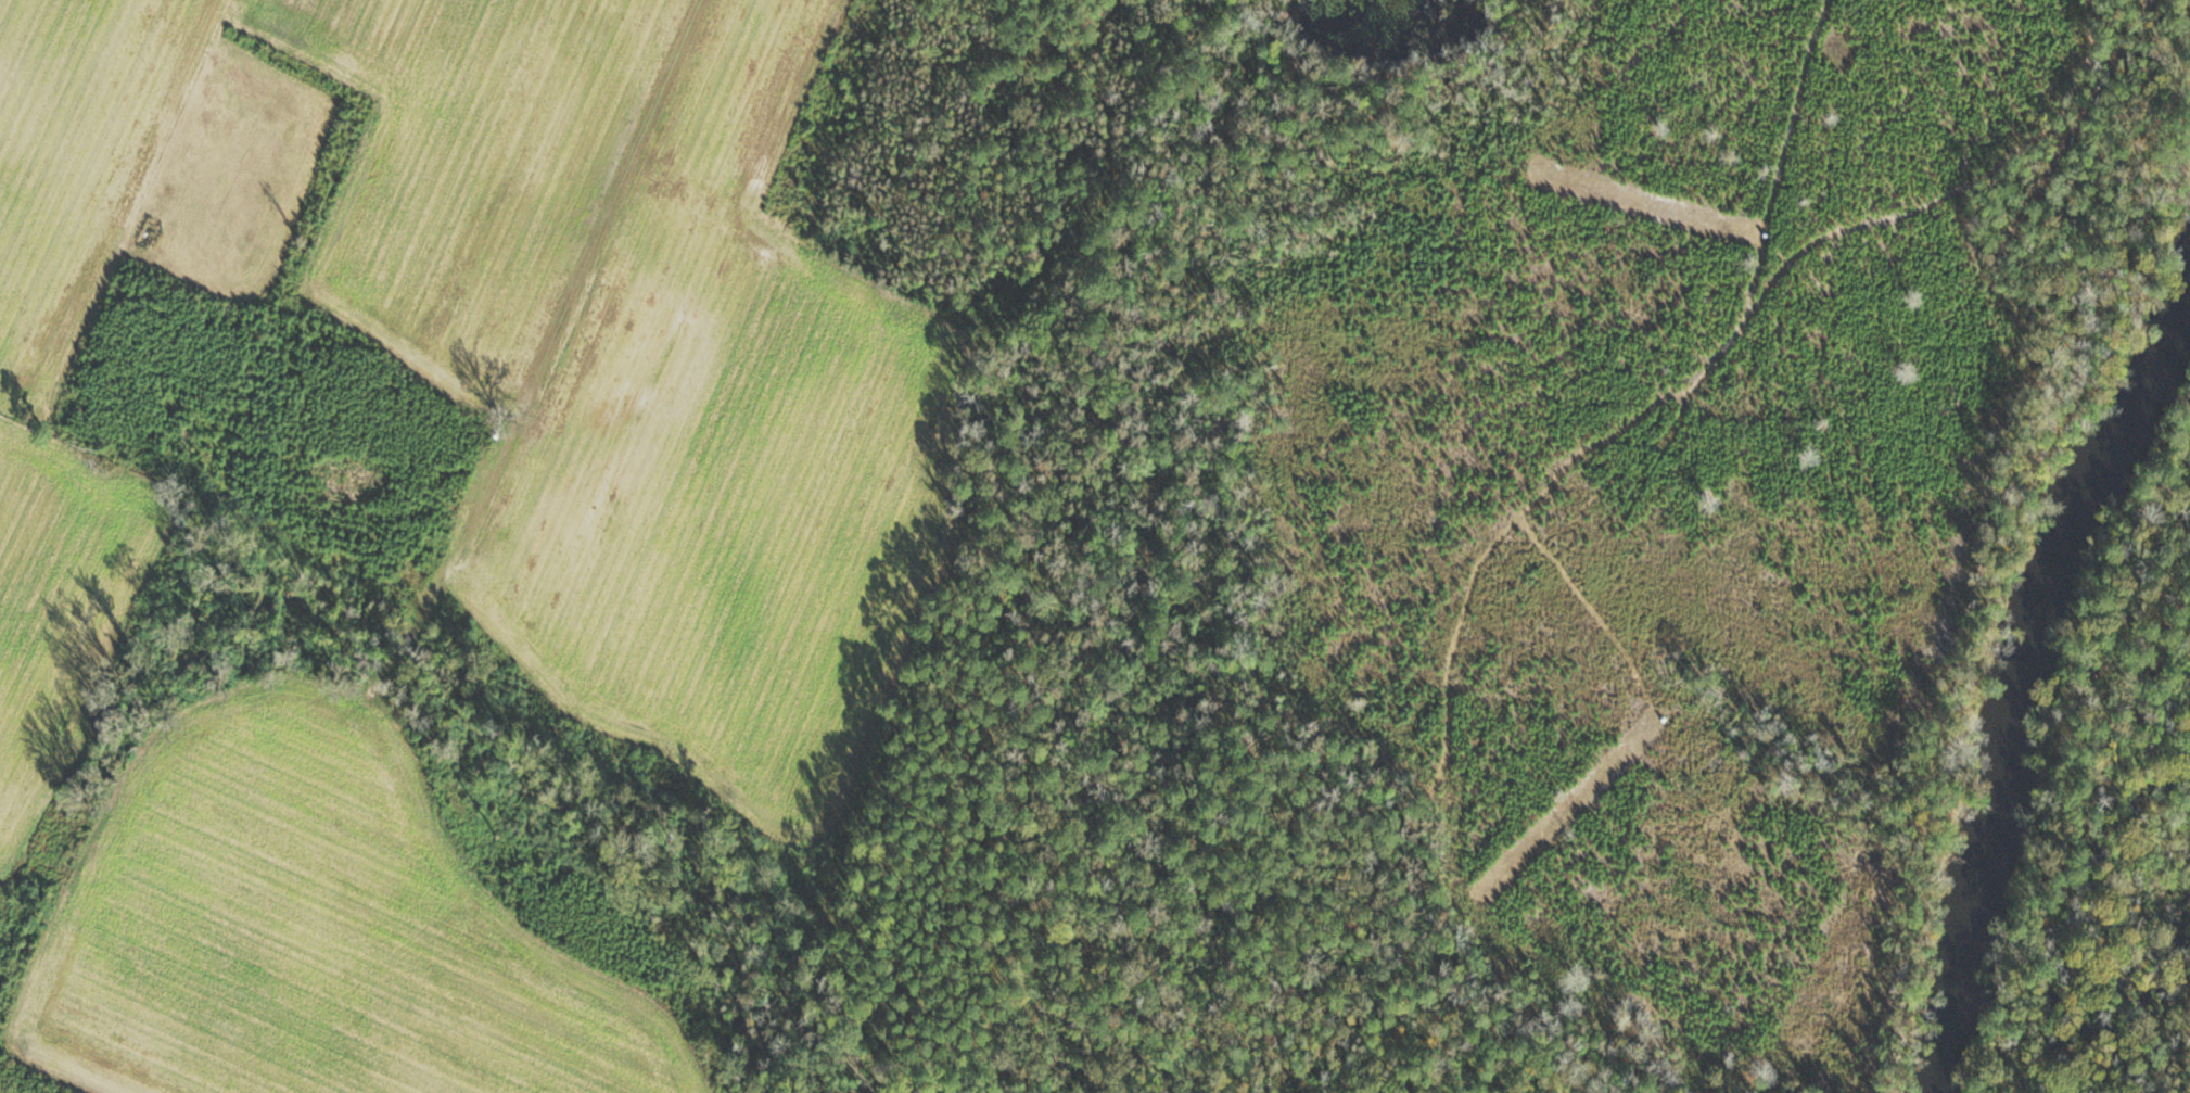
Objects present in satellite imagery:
river: (2034, 682)
airport: (2106, 828)

